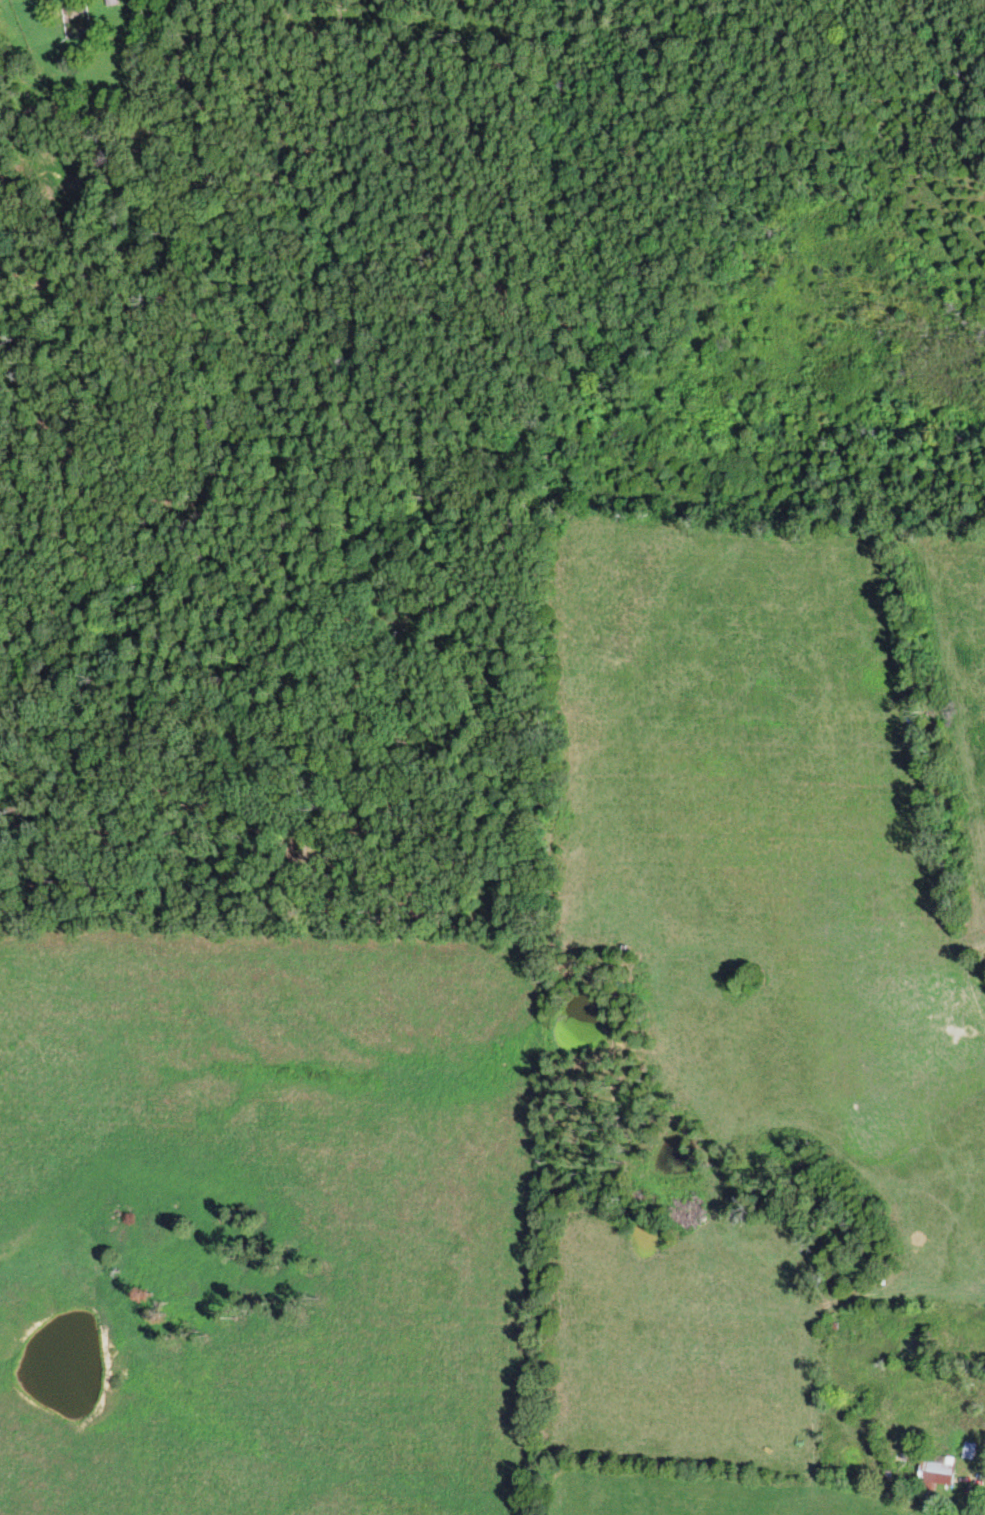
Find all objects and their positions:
building: (944, 1470)

